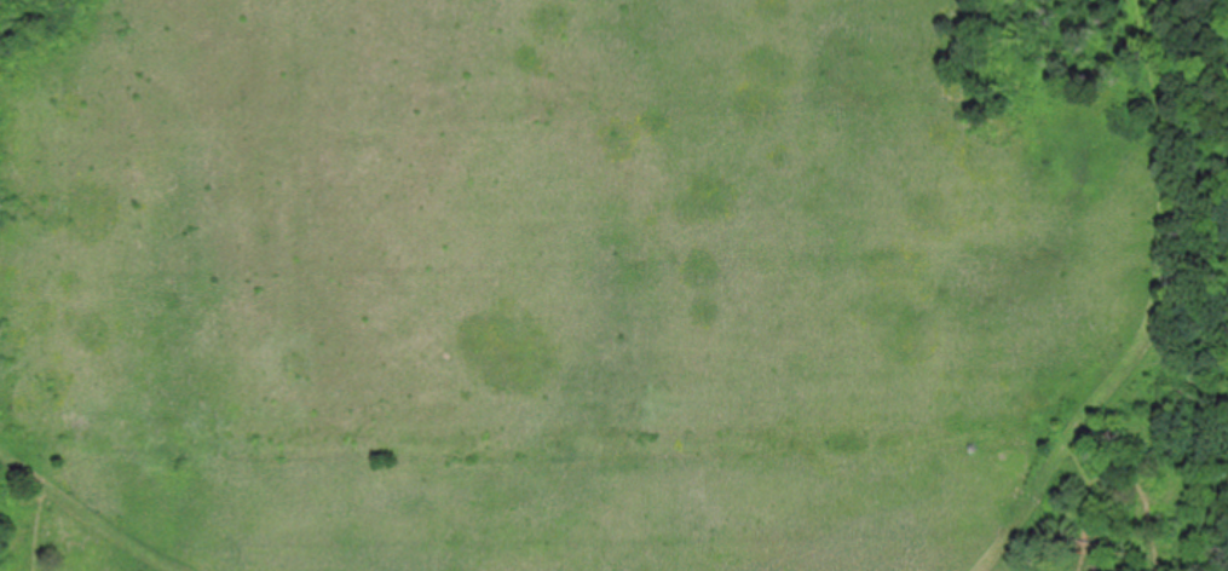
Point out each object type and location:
park: (613, 285)
road: (1155, 308)
road: (96, 509)

